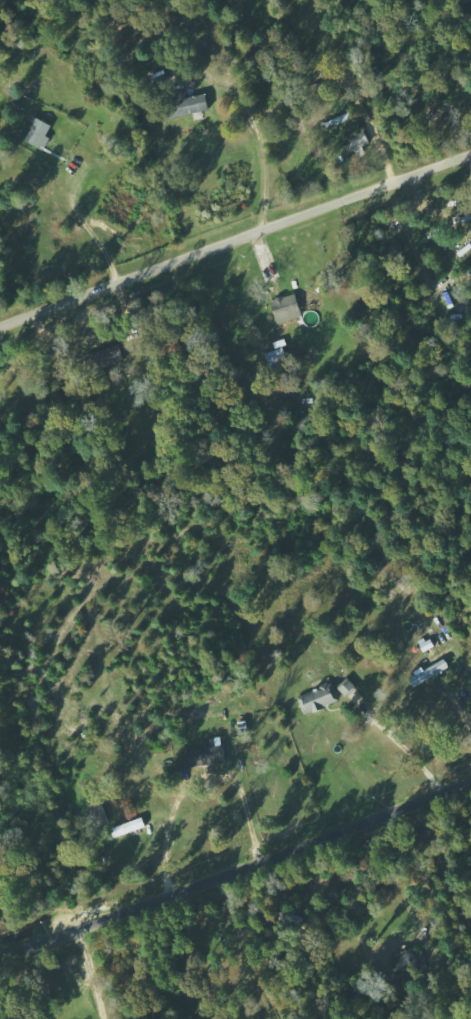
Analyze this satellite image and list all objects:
building: (196, 104)
building: (41, 133)
building: (358, 140)
road: (235, 239)
building: (288, 308)
building: (108, 357)
building: (278, 359)
building: (431, 672)
building: (349, 688)
building: (319, 699)
building: (207, 756)
building: (131, 827)
road: (235, 870)
building: (407, 961)

